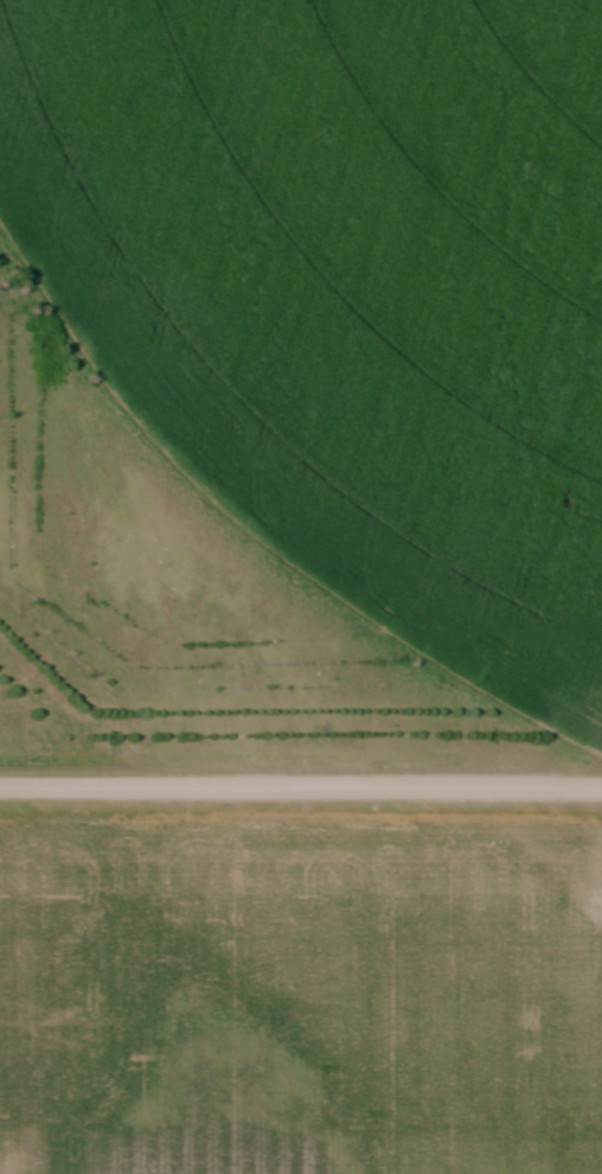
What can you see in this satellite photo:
road: (301, 790)

